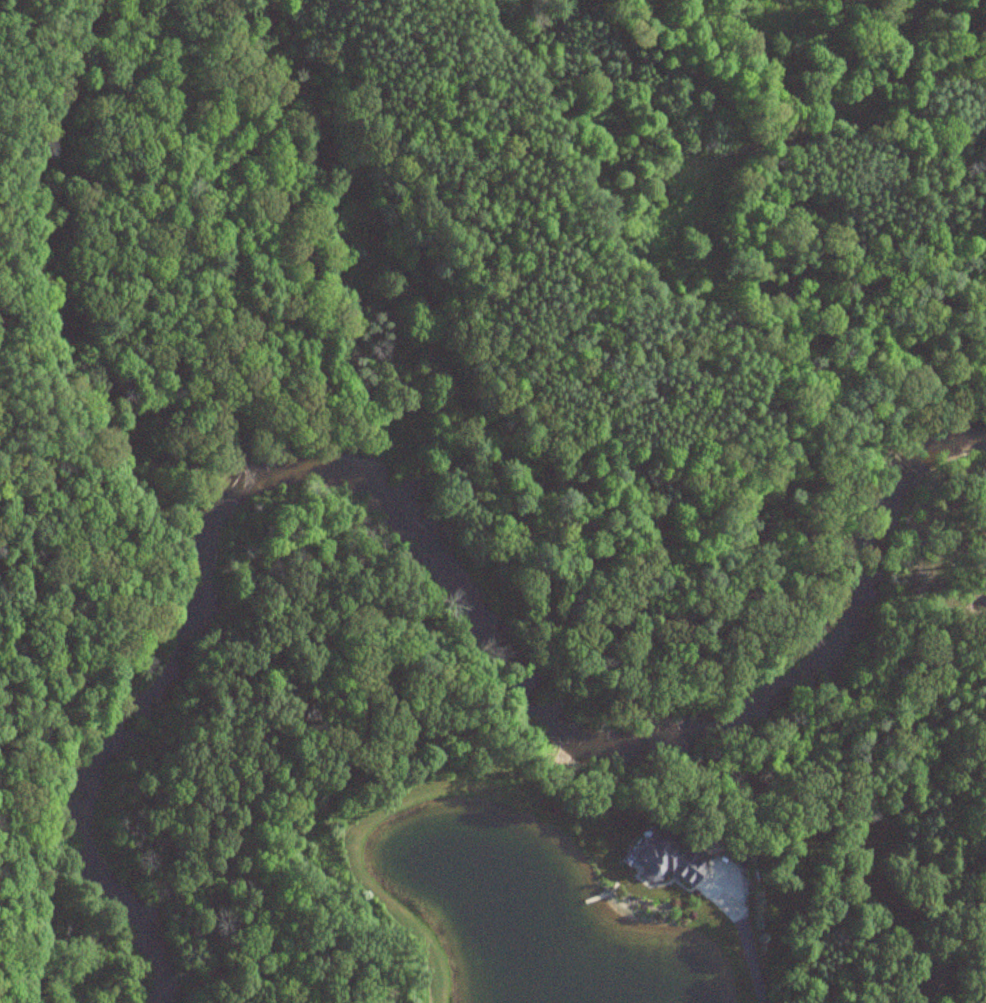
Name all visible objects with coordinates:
river: (424, 549)
building: (663, 857)
road: (747, 954)
building: (926, 978)

